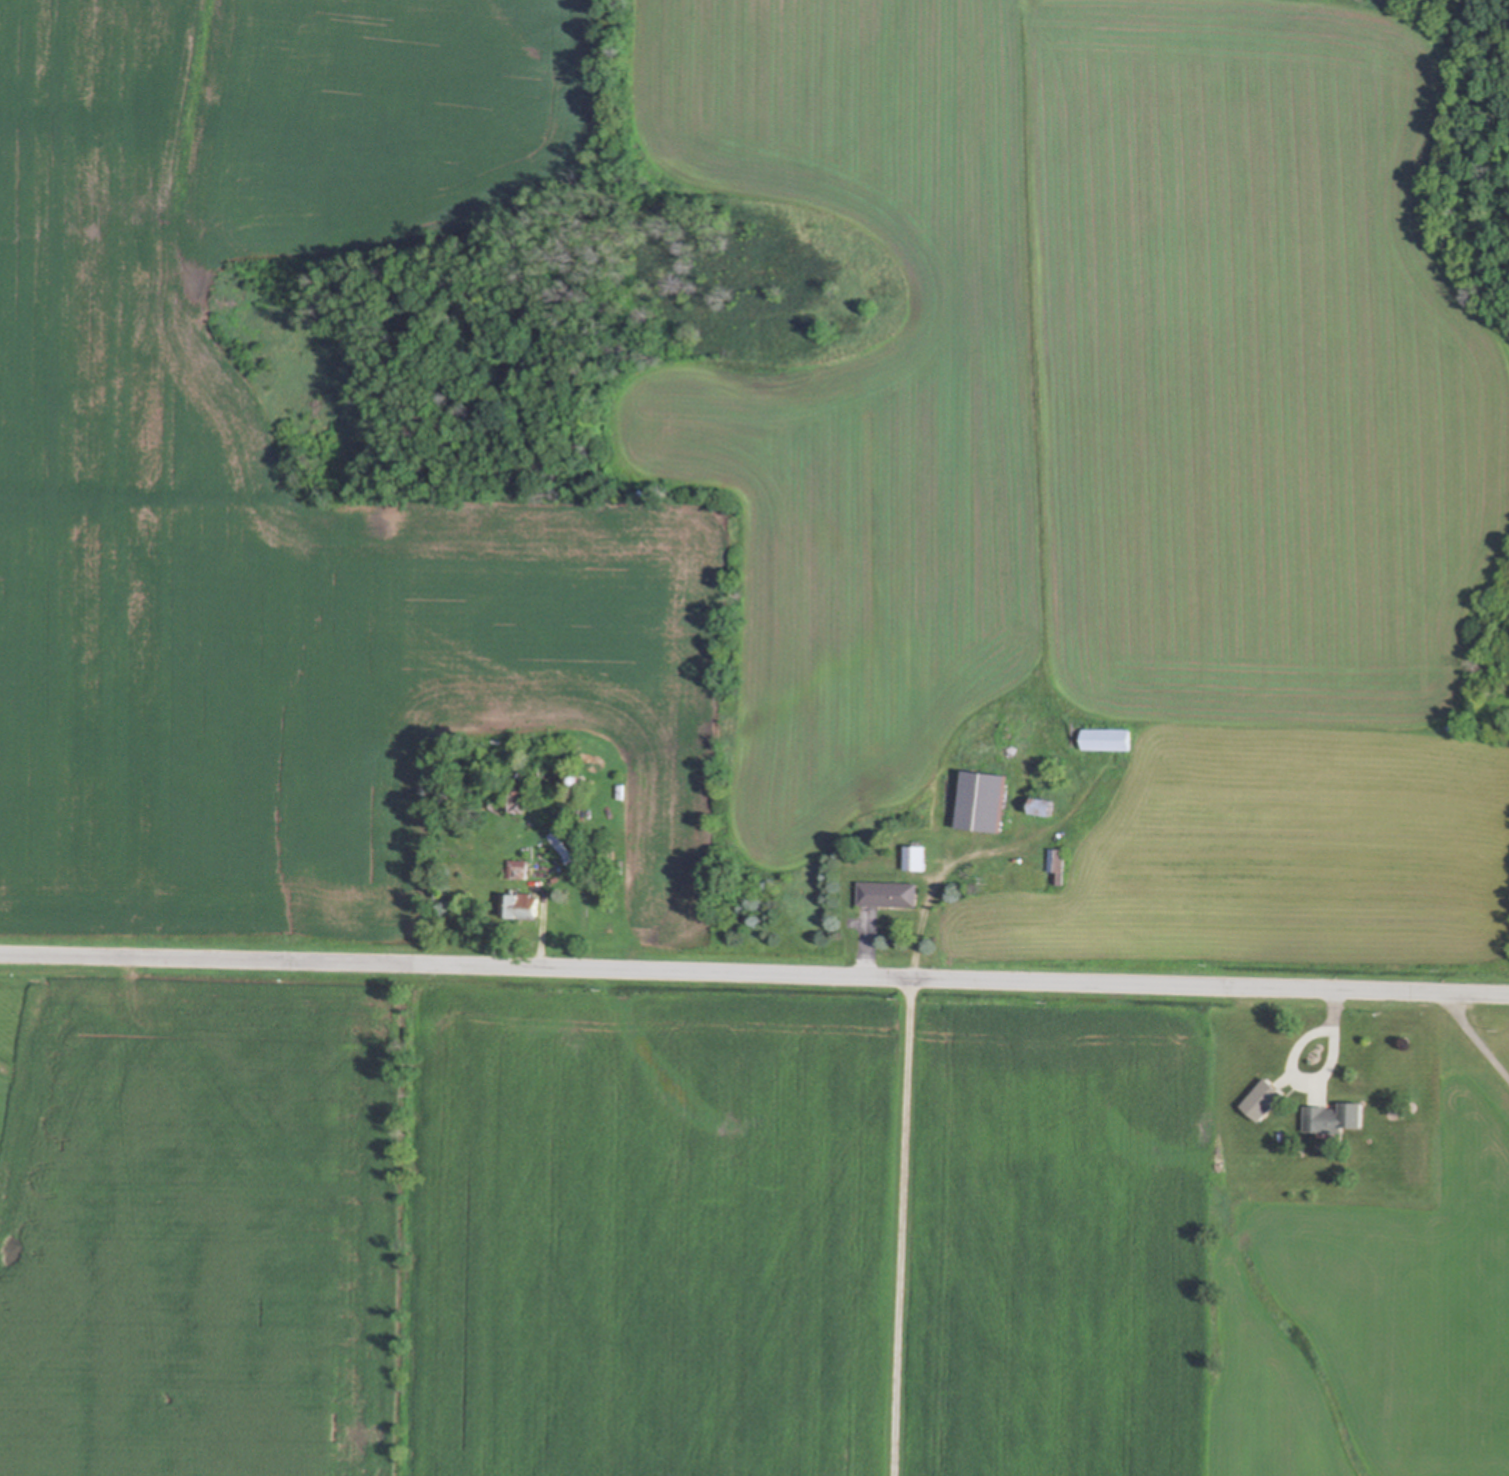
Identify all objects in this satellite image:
building: (1106, 740)
building: (517, 801)
building: (980, 801)
building: (1042, 807)
building: (914, 858)
building: (1056, 867)
building: (516, 869)
road: (561, 878)
building: (886, 894)
building: (523, 907)
road: (863, 953)
road: (754, 974)
road: (1472, 1037)
road: (1313, 1079)
building: (1266, 1098)
building: (1335, 1117)
road: (900, 1169)

